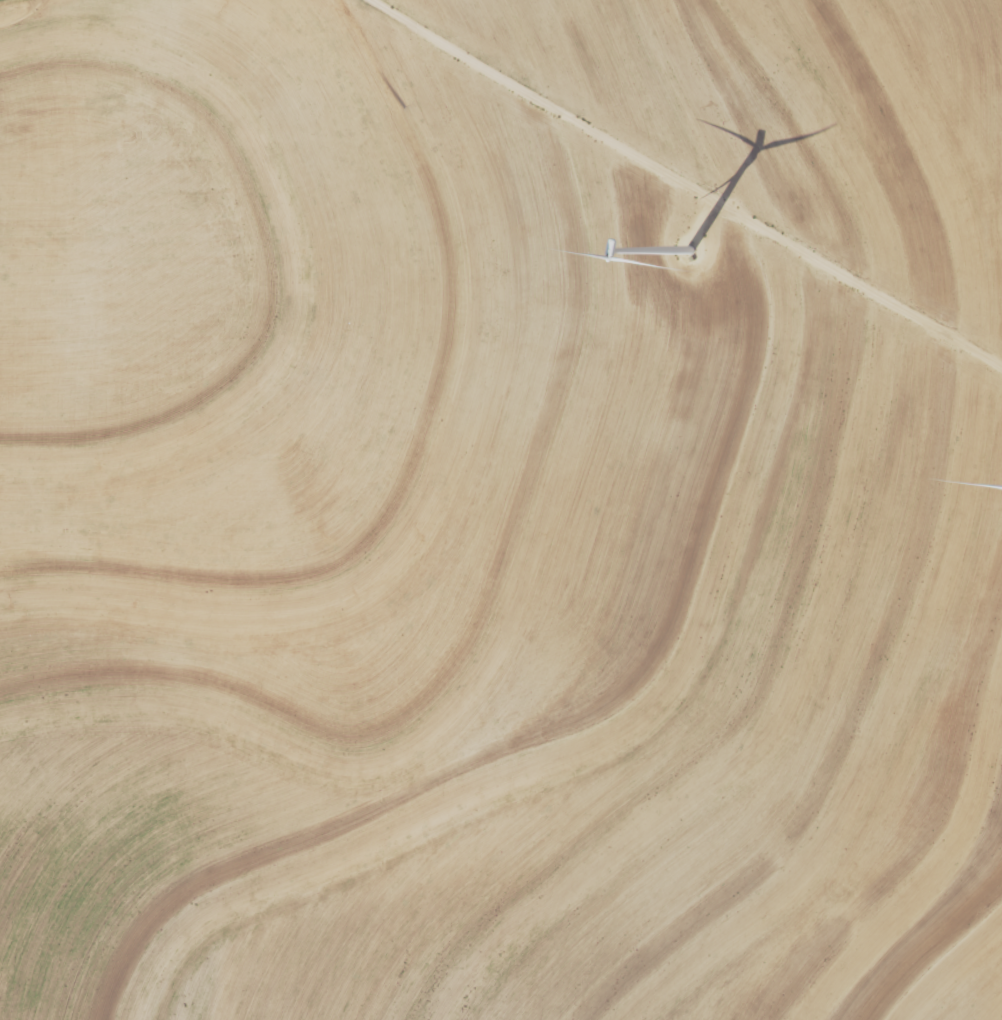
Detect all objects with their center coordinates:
road: (685, 183)
wind turbine: (677, 261)

